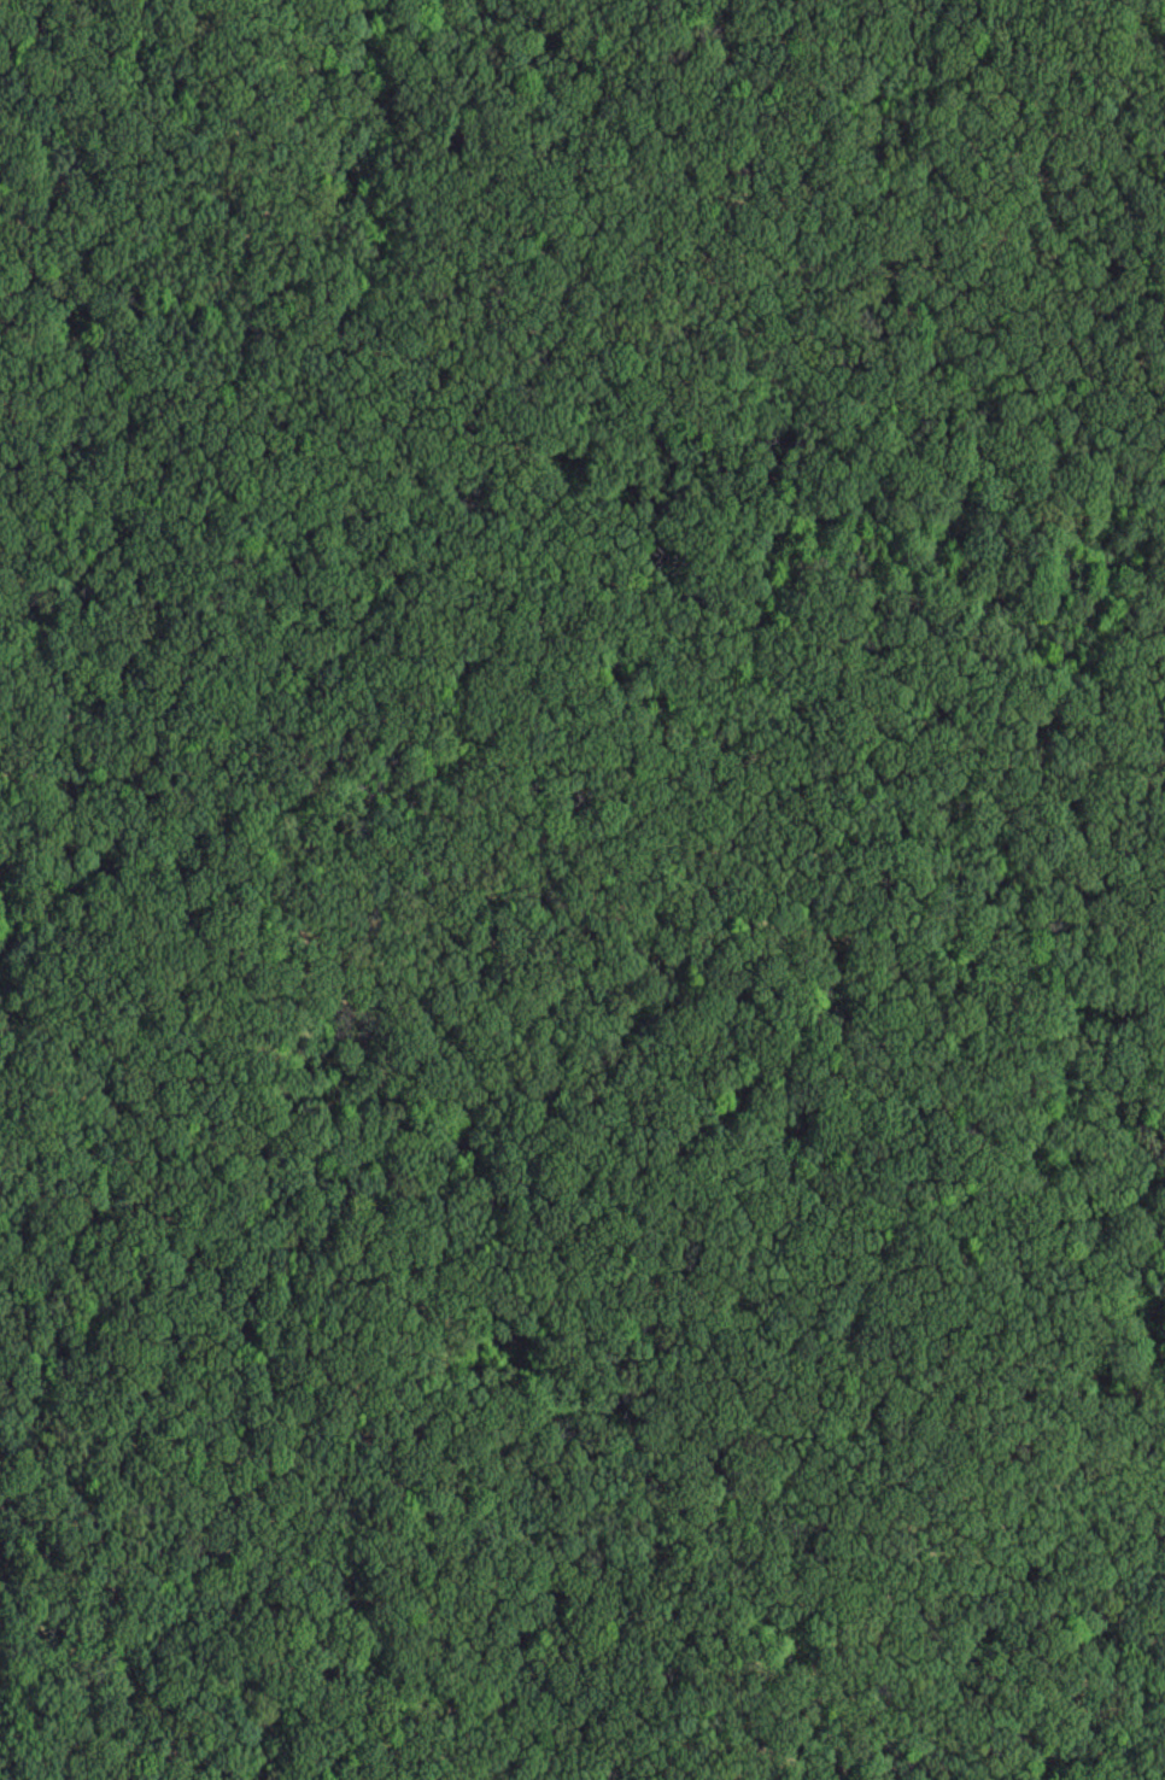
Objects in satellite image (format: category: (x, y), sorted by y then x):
road: (191, 1144)

